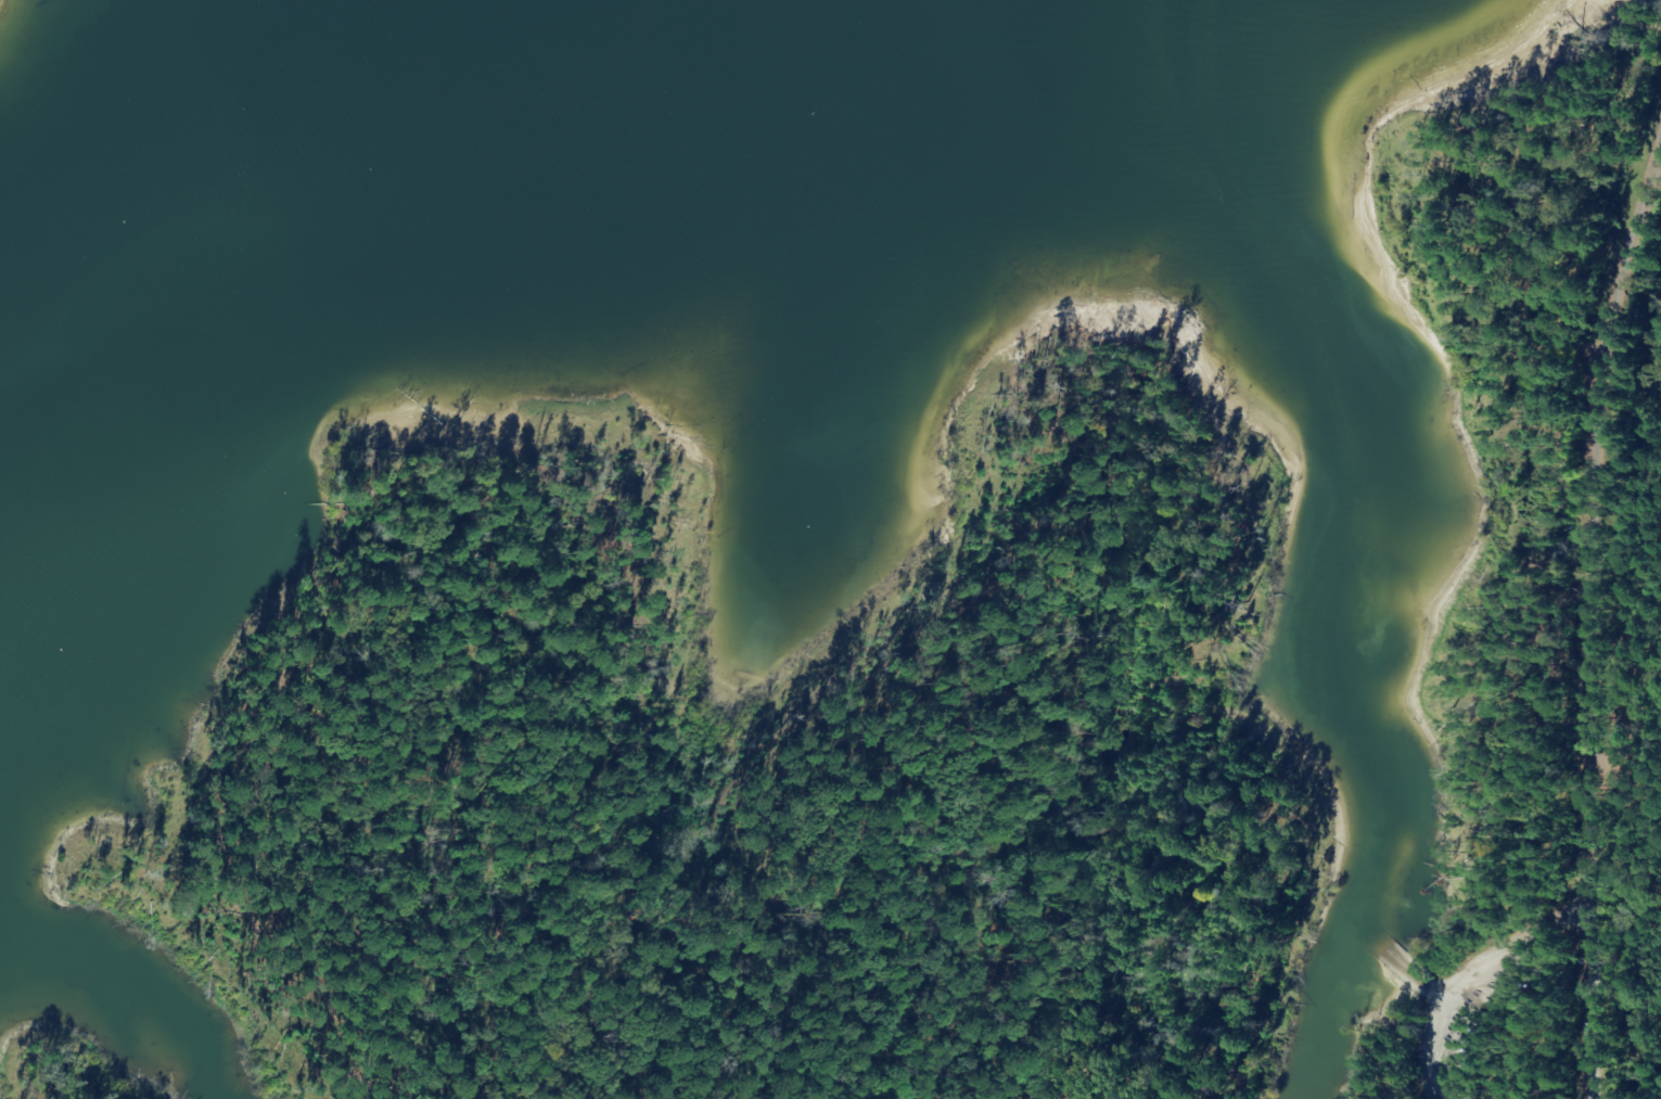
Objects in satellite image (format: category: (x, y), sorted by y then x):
road: (1563, 138)
road: (1577, 629)
road: (1620, 745)
road: (1475, 986)

